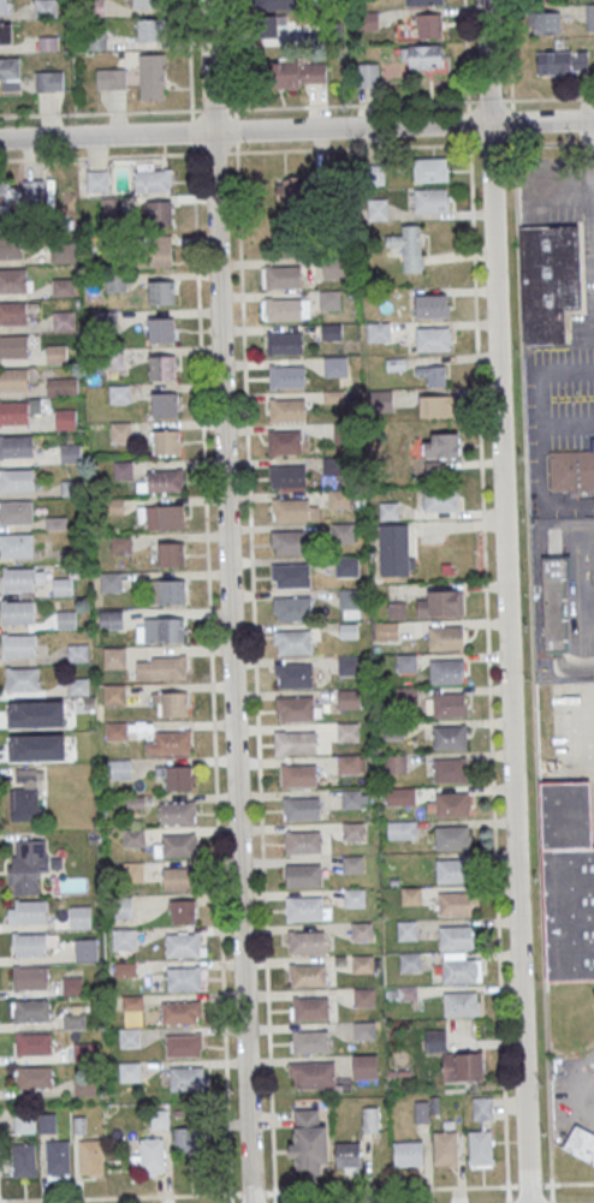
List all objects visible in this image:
building: (545, 0)
building: (423, 2)
building: (147, 4)
building: (4, 6)
building: (44, 8)
building: (589, 16)
building: (368, 20)
building: (543, 22)
building: (267, 24)
building: (428, 24)
building: (150, 30)
building: (5, 34)
building: (95, 38)
road: (232, 54)
building: (422, 56)
road: (509, 61)
building: (562, 61)
building: (297, 72)
building: (10, 73)
building: (367, 75)
building: (153, 76)
building: (108, 78)
building: (48, 81)
road: (552, 97)
road: (117, 111)
road: (541, 123)
road: (350, 129)
road: (105, 136)
road: (296, 150)
building: (430, 169)
building: (153, 180)
building: (94, 181)
building: (32, 193)
building: (290, 193)
building: (8, 195)
building: (429, 198)
building: (376, 208)
building: (159, 213)
building: (11, 246)
building: (409, 248)
building: (153, 251)
building: (61, 252)
building: (333, 269)
building: (281, 276)
building: (548, 279)
building: (12, 280)
building: (115, 282)
building: (61, 287)
building: (161, 292)
building: (329, 299)
building: (432, 305)
building: (285, 309)
building: (12, 312)
building: (64, 320)
parking lot: (582, 328)
building: (161, 329)
building: (331, 330)
building: (378, 332)
building: (433, 338)
building: (284, 343)
building: (13, 345)
building: (55, 353)
building: (335, 365)
building: (162, 367)
building: (432, 374)
building: (286, 376)
building: (13, 379)
building: (61, 387)
building: (381, 400)
building: (165, 404)
building: (438, 405)
building: (286, 410)
building: (13, 412)
building: (65, 418)
building: (120, 433)
road: (543, 439)
building: (286, 441)
building: (166, 442)
building: (441, 445)
building: (16, 446)
building: (69, 453)
building: (571, 469)
building: (287, 476)
building: (16, 480)
building: (162, 481)
building: (339, 499)
building: (441, 499)
building: (291, 508)
building: (14, 511)
building: (160, 517)
road: (249, 517)
building: (343, 532)
building: (287, 542)
building: (16, 544)
building: (393, 548)
building: (171, 554)
building: (346, 566)
building: (292, 574)
building: (17, 579)
building: (111, 582)
building: (61, 586)
building: (172, 591)
road: (485, 591)
building: (350, 598)
road: (208, 601)
road: (228, 601)
road: (505, 601)
building: (554, 601)
building: (445, 603)
building: (292, 609)
building: (397, 609)
building: (18, 612)
building: (66, 619)
building: (111, 619)
building: (160, 630)
building: (387, 631)
building: (445, 638)
building: (292, 641)
building: (19, 645)
building: (77, 651)
building: (114, 657)
building: (406, 663)
building: (348, 665)
building: (161, 667)
building: (446, 671)
building: (293, 675)
building: (20, 679)
building: (77, 685)
building: (113, 693)
building: (406, 696)
building: (348, 698)
building: (171, 703)
building: (449, 704)
building: (296, 708)
building: (28, 716)
building: (392, 729)
building: (115, 731)
building: (348, 731)
building: (450, 737)
parking lot: (572, 737)
building: (297, 742)
building: (171, 743)
building: (348, 763)
building: (396, 763)
building: (120, 768)
building: (450, 770)
building: (298, 775)
building: (177, 776)
building: (25, 794)
building: (404, 796)
building: (351, 798)
building: (451, 804)
building: (302, 809)
building: (178, 812)
building: (405, 828)
building: (352, 830)
building: (451, 836)
building: (133, 838)
building: (302, 841)
building: (176, 845)
building: (352, 863)
building: (26, 865)
building: (132, 871)
building: (453, 871)
building: (303, 874)
building: (178, 877)
building: (568, 880)
building: (411, 895)
building: (354, 898)
building: (455, 904)
building: (304, 907)
building: (30, 911)
building: (183, 911)
building: (79, 917)
building: (406, 930)
building: (361, 931)
building: (456, 937)
building: (124, 940)
building: (305, 940)
building: (29, 943)
building: (183, 945)
building: (85, 949)
building: (410, 961)
building: (362, 964)
building: (459, 971)
building: (307, 975)
building: (31, 977)
building: (184, 977)
building: (71, 985)
building: (363, 996)
building: (461, 1004)
building: (310, 1007)
building: (32, 1011)
building: (179, 1012)
building: (73, 1020)
building: (129, 1037)
building: (435, 1038)
building: (310, 1041)
building: (34, 1043)
building: (182, 1044)
building: (84, 1052)
building: (364, 1066)
building: (462, 1066)
building: (129, 1071)
building: (313, 1074)
building: (35, 1077)
building: (186, 1078)
building: (85, 1084)
road: (583, 1091)
building: (482, 1107)
building: (159, 1119)
building: (369, 1119)
building: (47, 1122)
building: (24, 1124)
building: (189, 1138)
building: (309, 1142)
building: (581, 1143)
building: (445, 1148)
building: (480, 1148)
building: (408, 1153)
building: (90, 1156)
building: (149, 1156)
building: (348, 1156)
building: (58, 1159)
building: (23, 1160)
road: (572, 1183)
road: (529, 1184)
road: (391, 1187)
road: (137, 1196)

